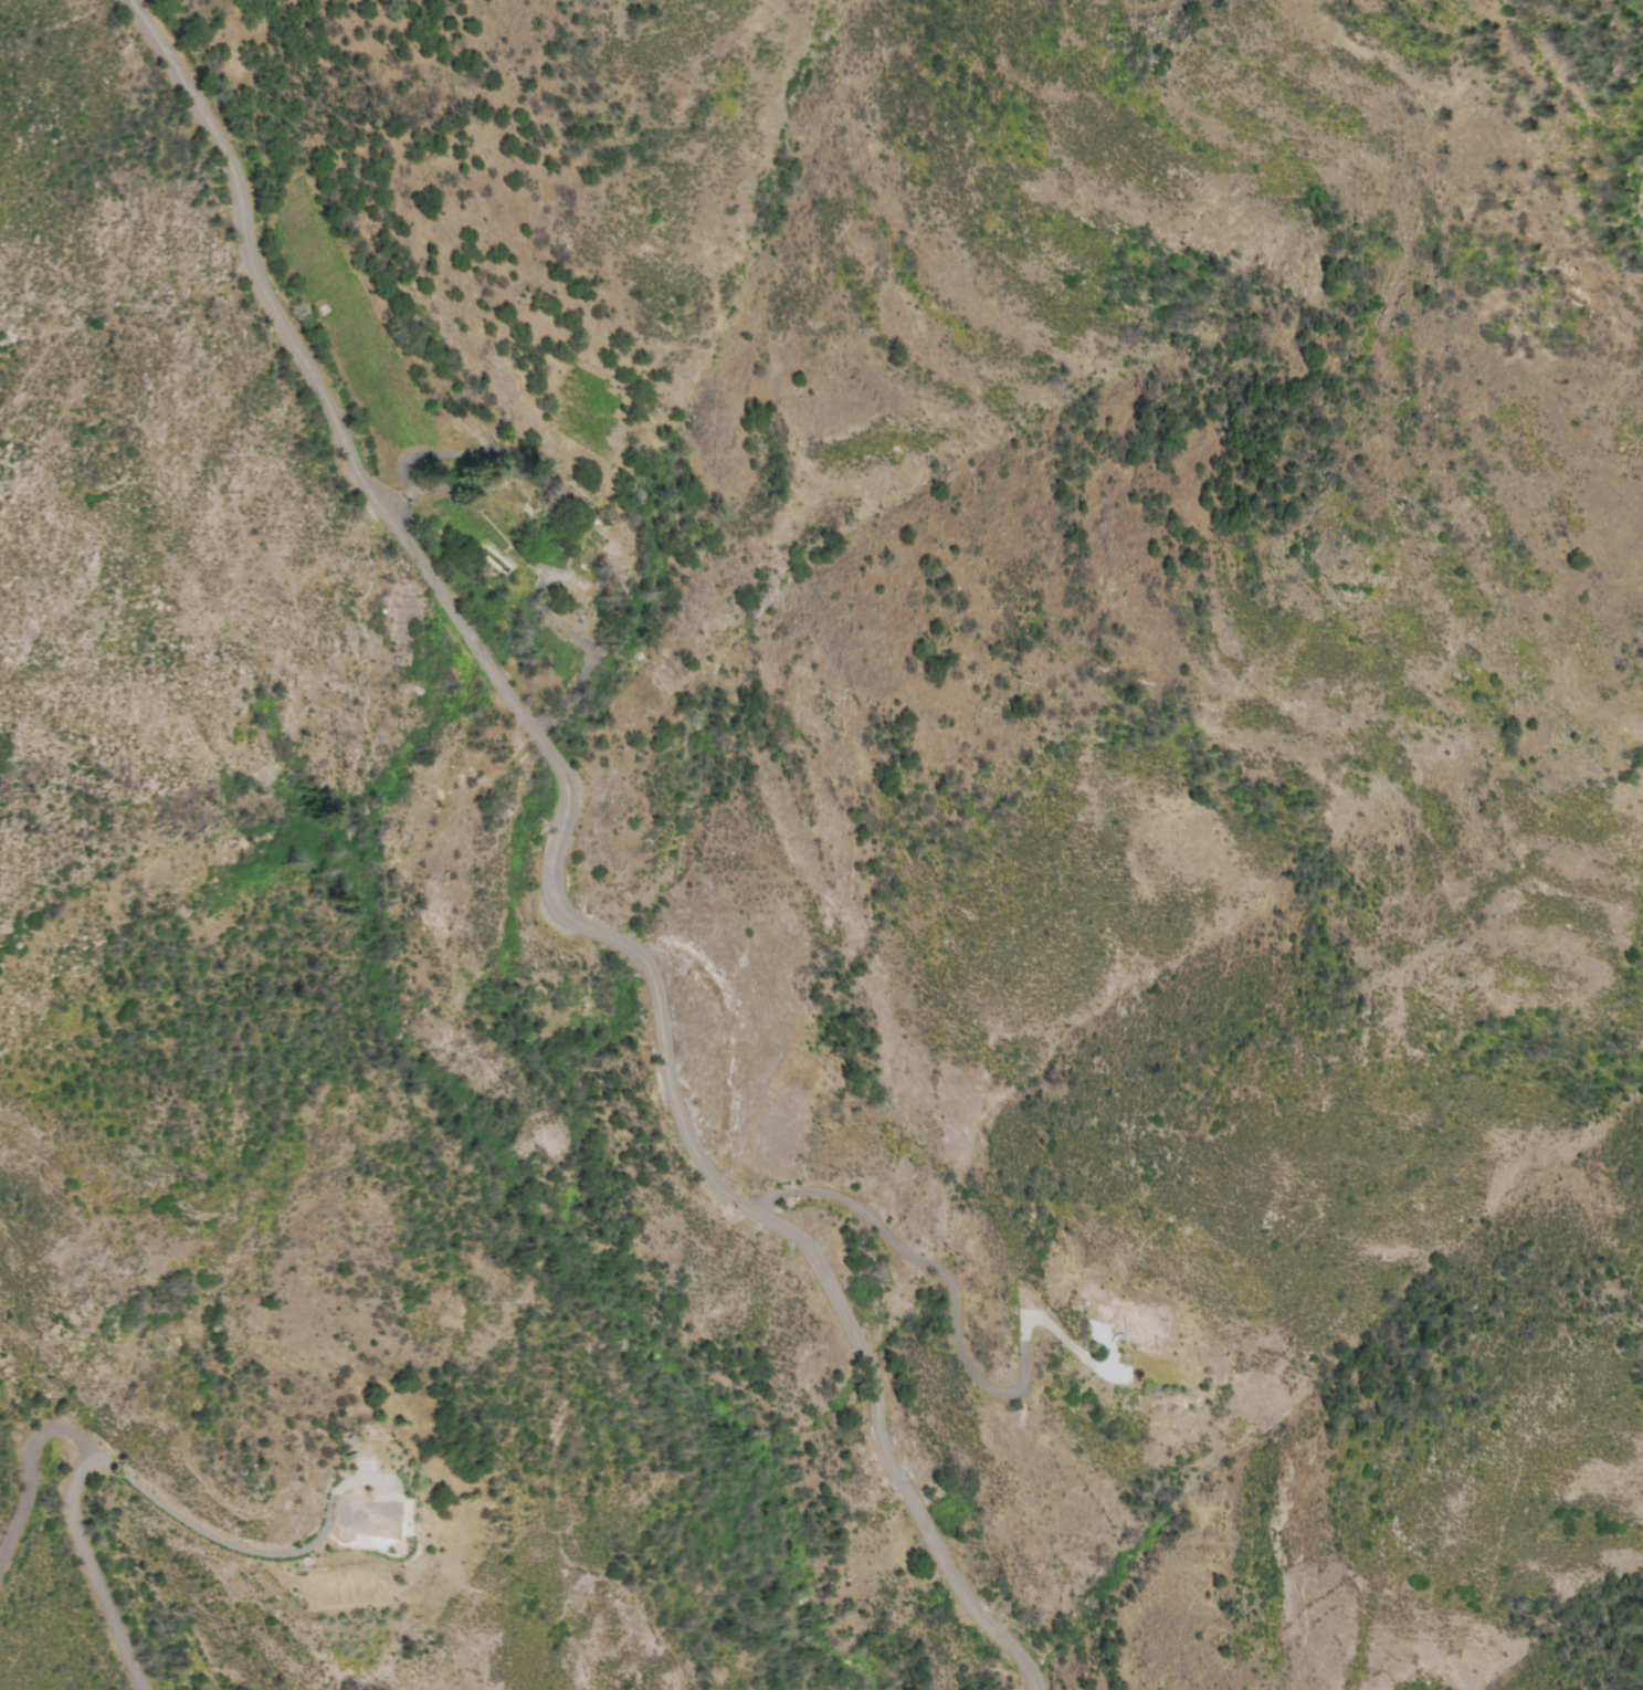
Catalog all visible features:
road: (561, 871)
road: (955, 1327)
road: (30, 1462)
road: (127, 1477)

